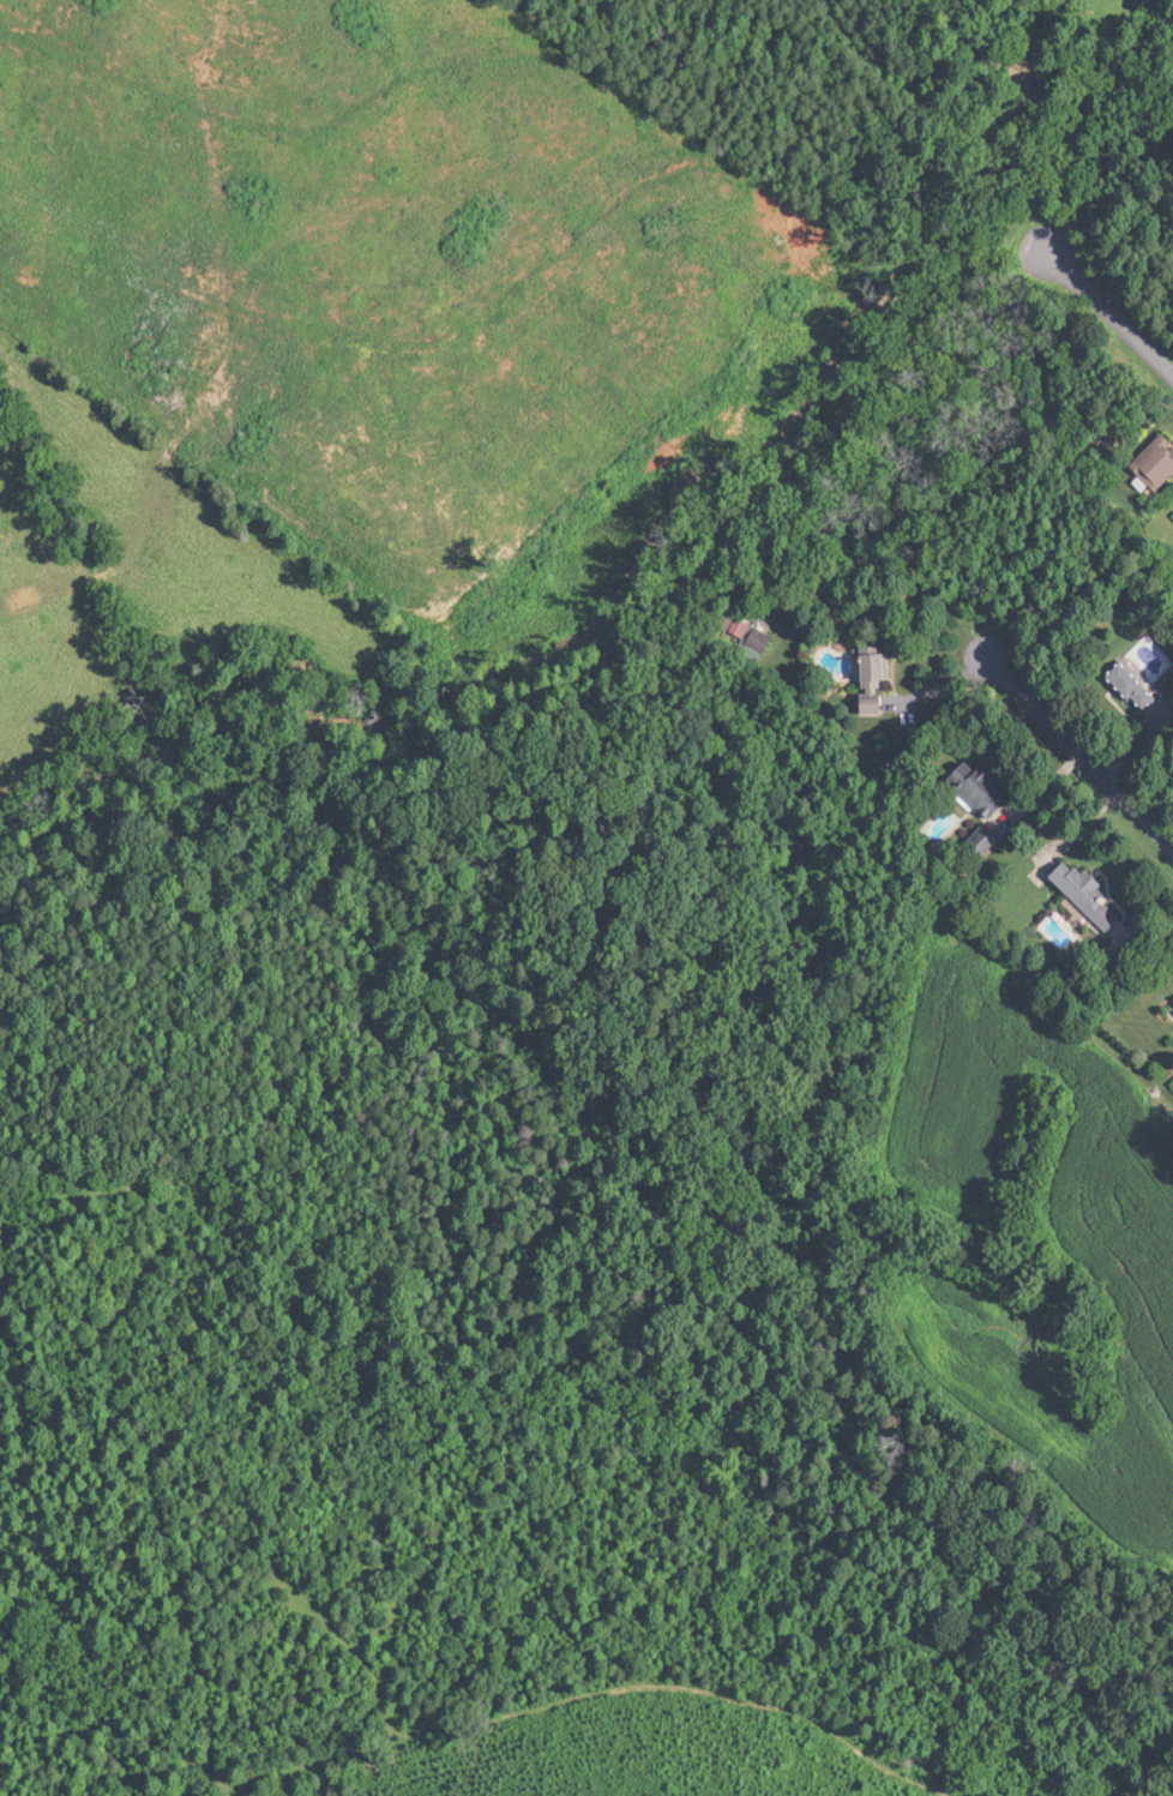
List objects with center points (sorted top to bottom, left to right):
road: (1105, 311)
building: (1159, 465)
building: (738, 626)
building: (879, 684)
building: (1138, 689)
road: (1076, 752)
building: (985, 791)
building: (1094, 899)

